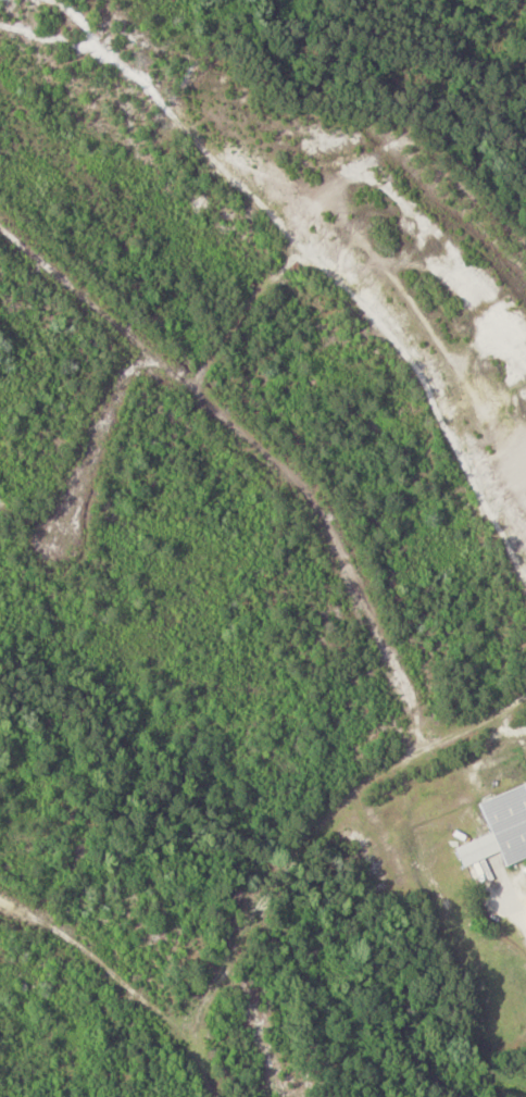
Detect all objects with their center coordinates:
building: (501, 827)

